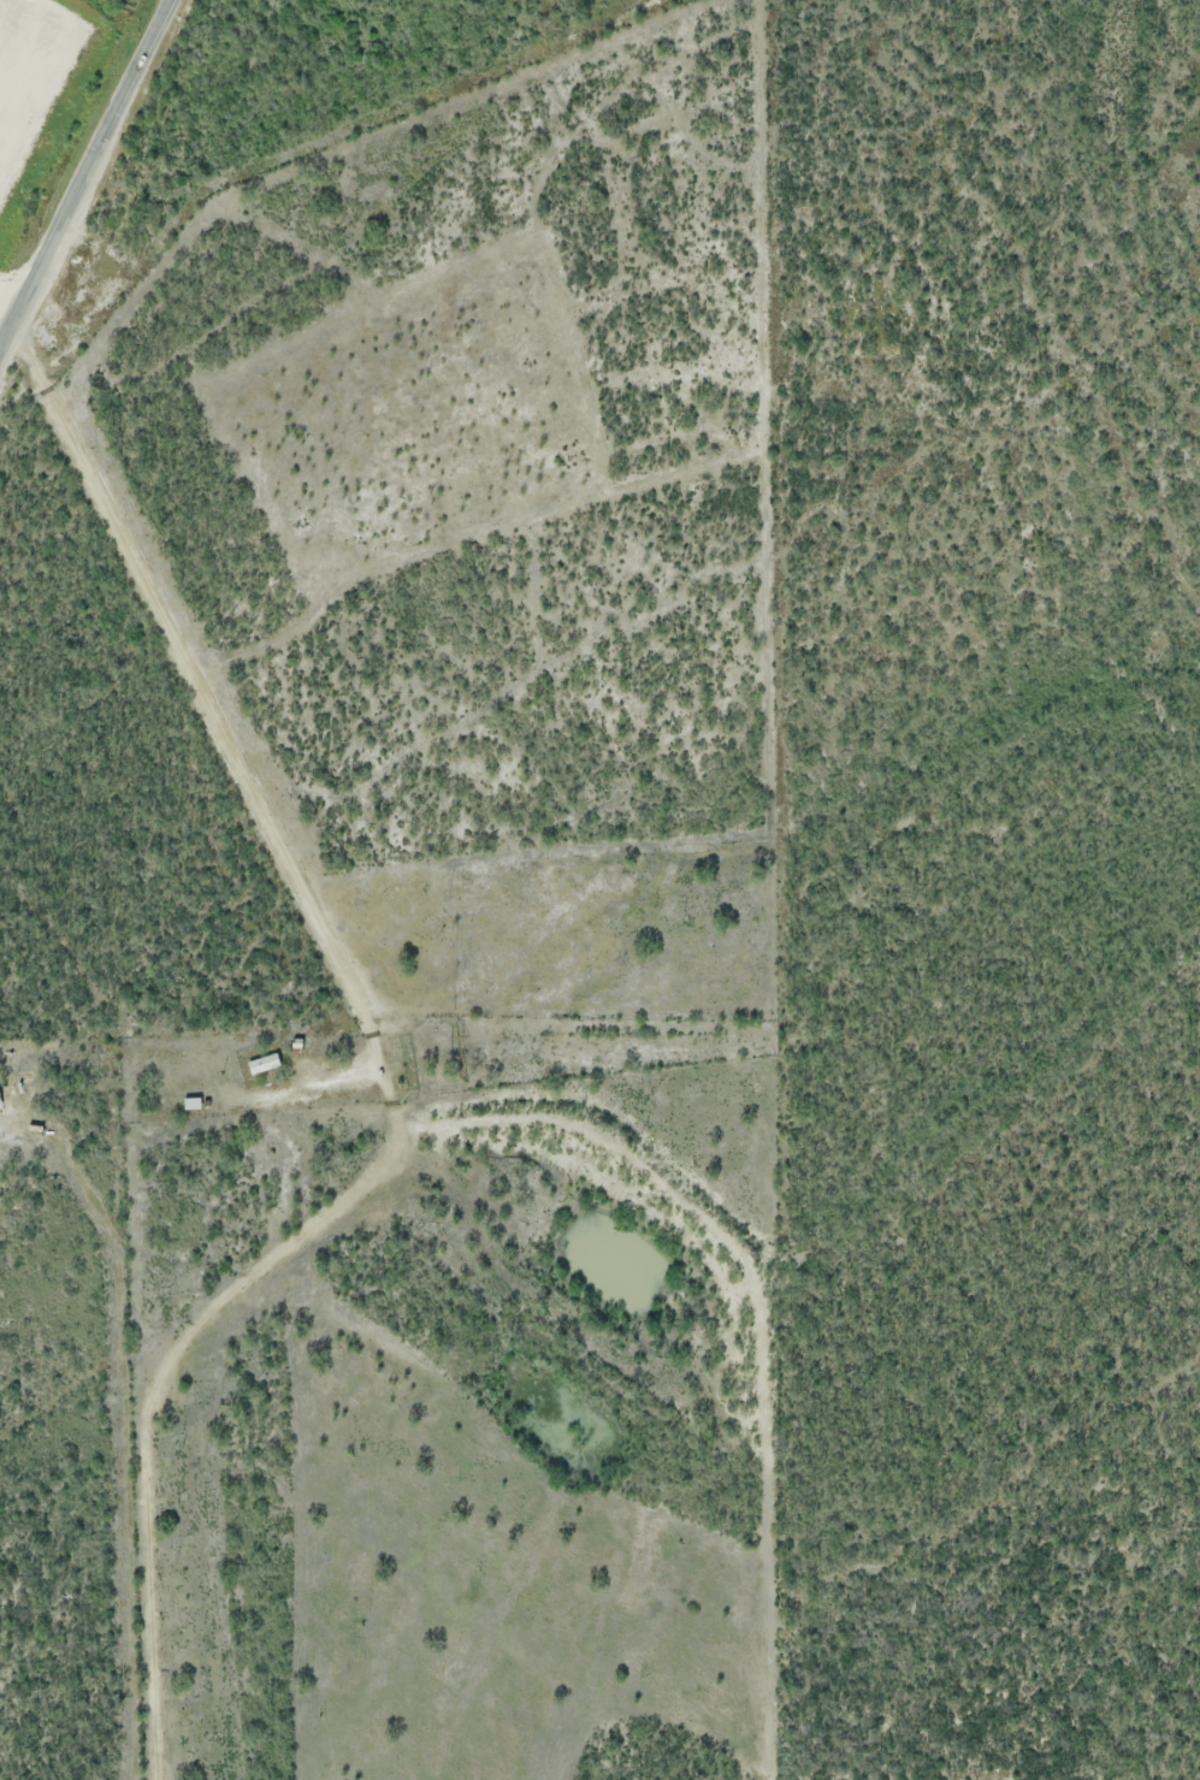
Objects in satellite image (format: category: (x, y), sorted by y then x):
road: (89, 182)
building: (264, 1063)
building: (191, 1102)

